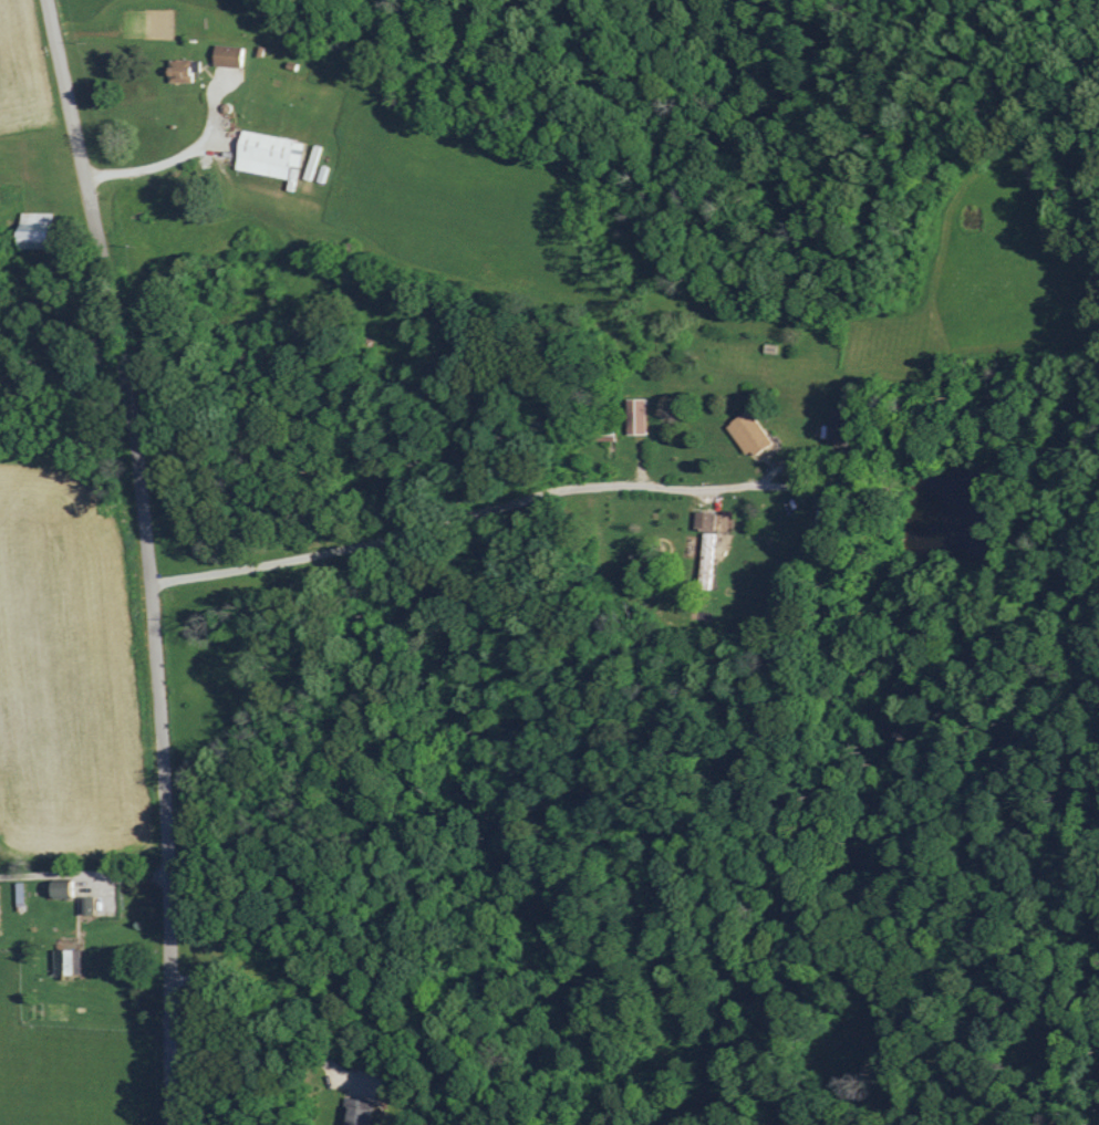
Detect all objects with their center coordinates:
building: (227, 56)
building: (178, 70)
building: (267, 154)
road: (175, 156)
building: (33, 230)
building: (635, 414)
road: (582, 416)
building: (837, 425)
building: (747, 431)
road: (538, 494)
building: (706, 543)
road: (148, 558)
road: (89, 875)
building: (59, 888)
building: (65, 960)
road: (267, 1035)
building: (355, 1111)

